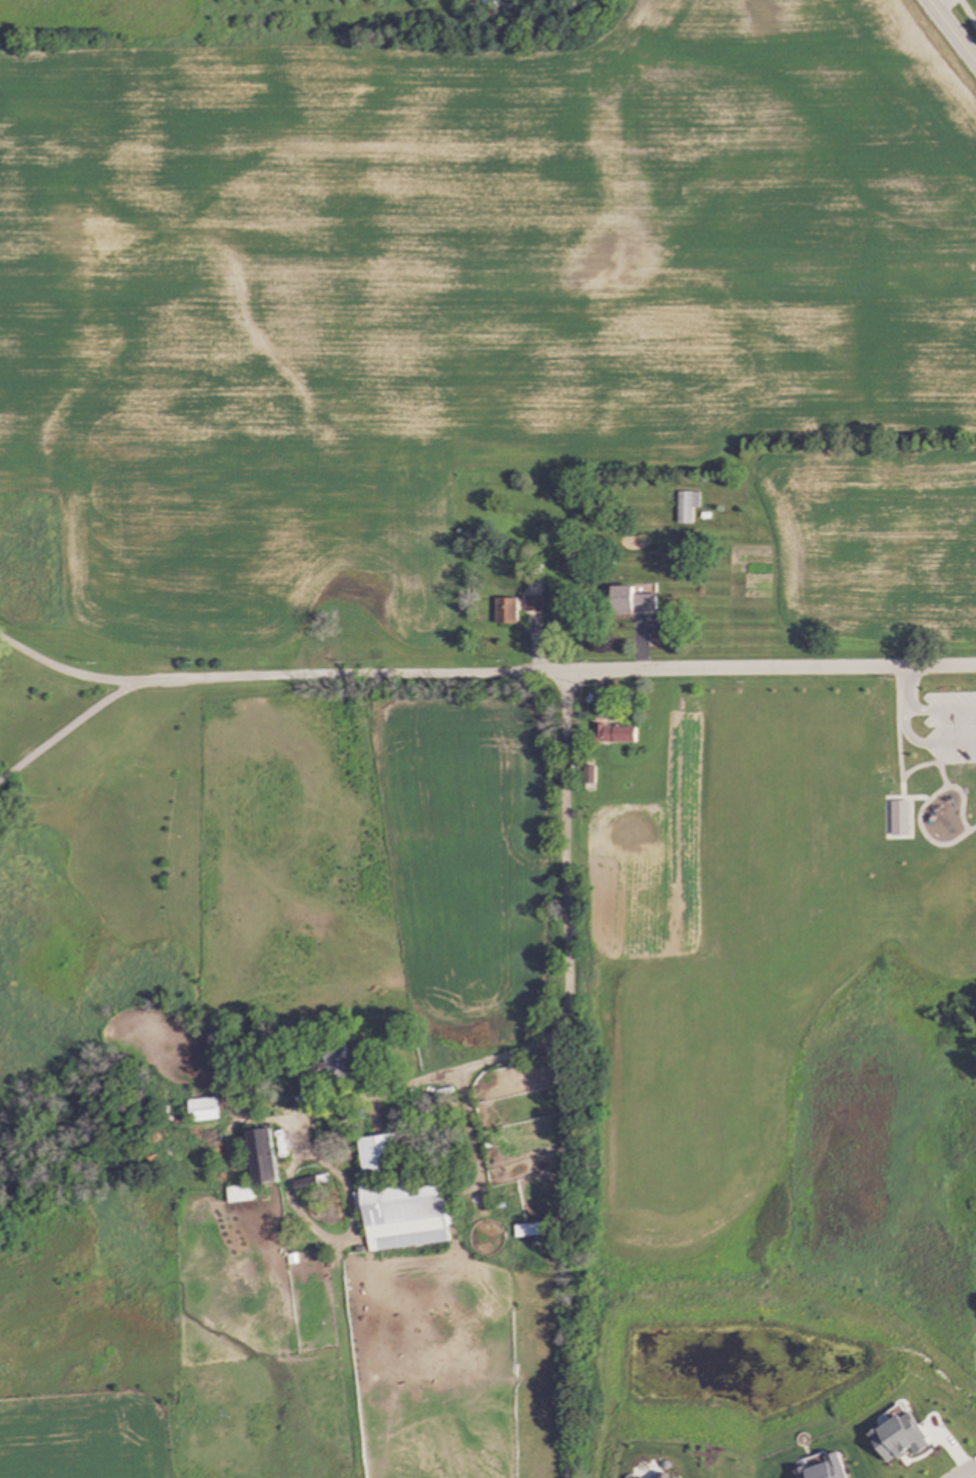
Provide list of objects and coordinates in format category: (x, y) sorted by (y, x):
road: (967, 13)
road: (950, 33)
building: (686, 506)
building: (632, 602)
building: (506, 611)
road: (483, 668)
road: (904, 687)
road: (903, 723)
road: (67, 730)
building: (614, 734)
building: (899, 818)
road: (473, 1065)
building: (206, 1111)
building: (379, 1157)
building: (269, 1159)
building: (243, 1195)
building: (407, 1214)
building: (529, 1232)
road: (965, 1471)

